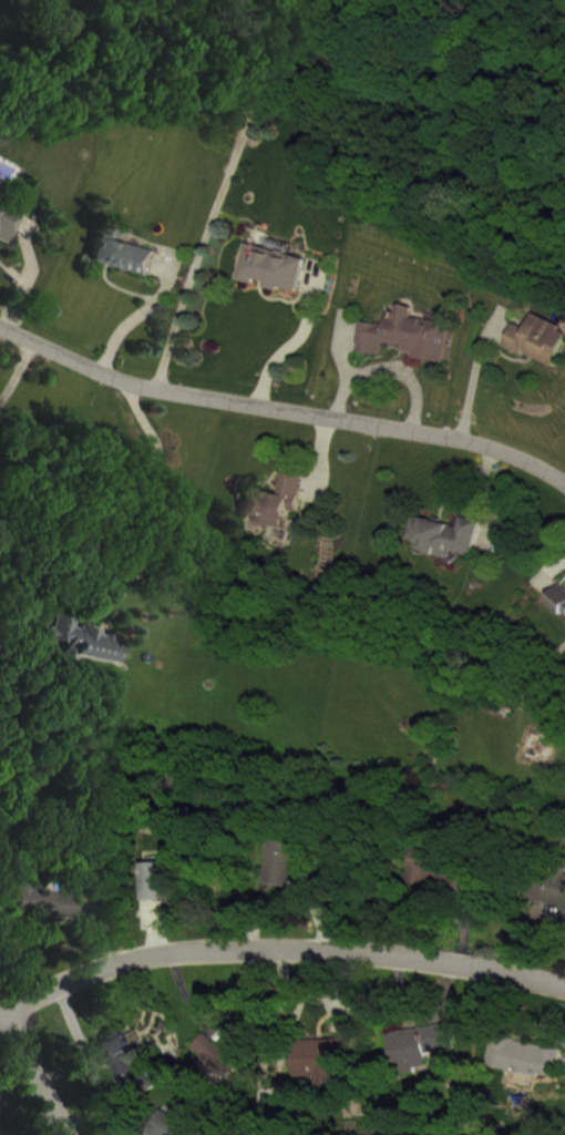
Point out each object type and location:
building: (4, 1)
building: (1, 205)
building: (10, 238)
building: (131, 270)
building: (279, 283)
road: (288, 340)
building: (413, 350)
building: (544, 355)
road: (16, 367)
road: (281, 408)
road: (119, 495)
building: (286, 517)
building: (454, 550)
building: (562, 614)
building: (89, 654)
building: (294, 875)
building: (446, 883)
building: (171, 894)
building: (551, 904)
building: (51, 916)
building: (95, 923)
road: (276, 945)
building: (428, 1060)
building: (230, 1068)
building: (532, 1072)
building: (331, 1074)
road: (31, 1077)
building: (134, 1078)
building: (0, 1133)

